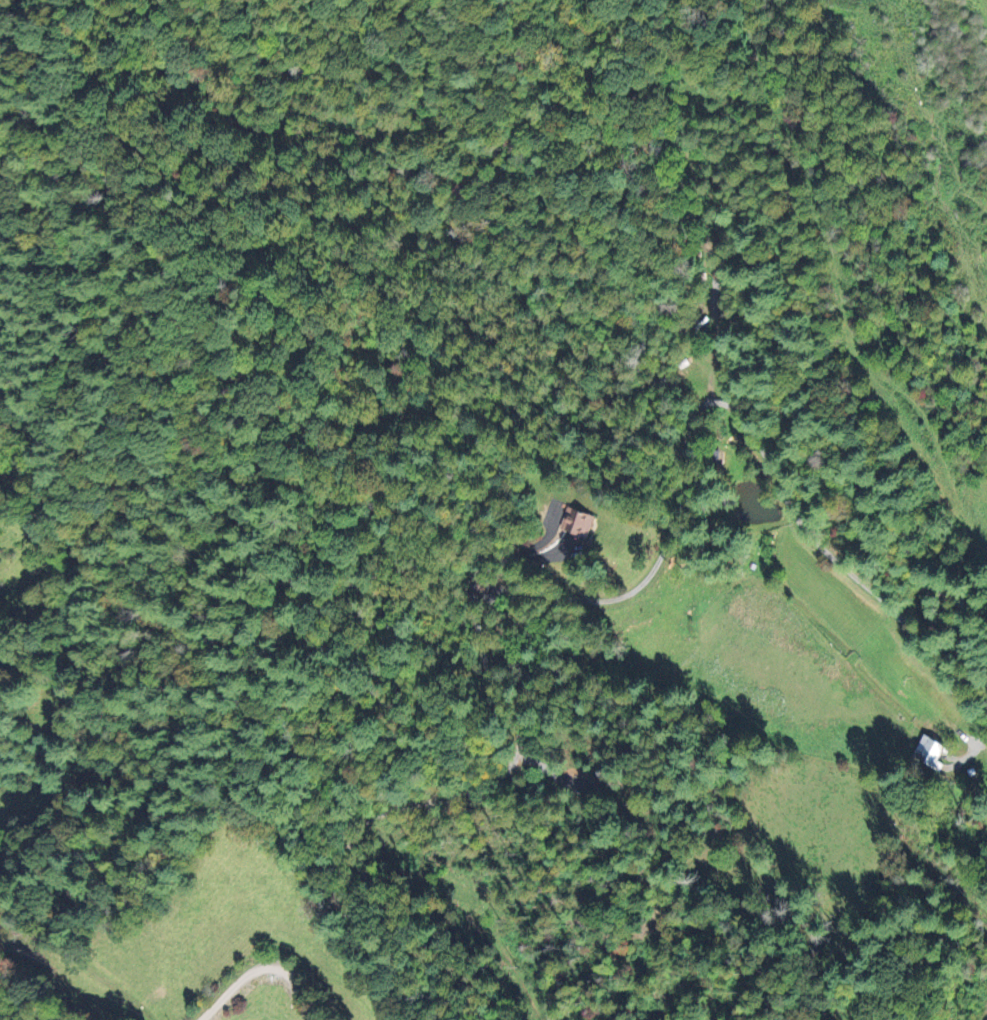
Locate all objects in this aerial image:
road: (750, 431)
building: (578, 521)
road: (500, 563)
building: (930, 750)
road: (415, 803)
road: (262, 968)

